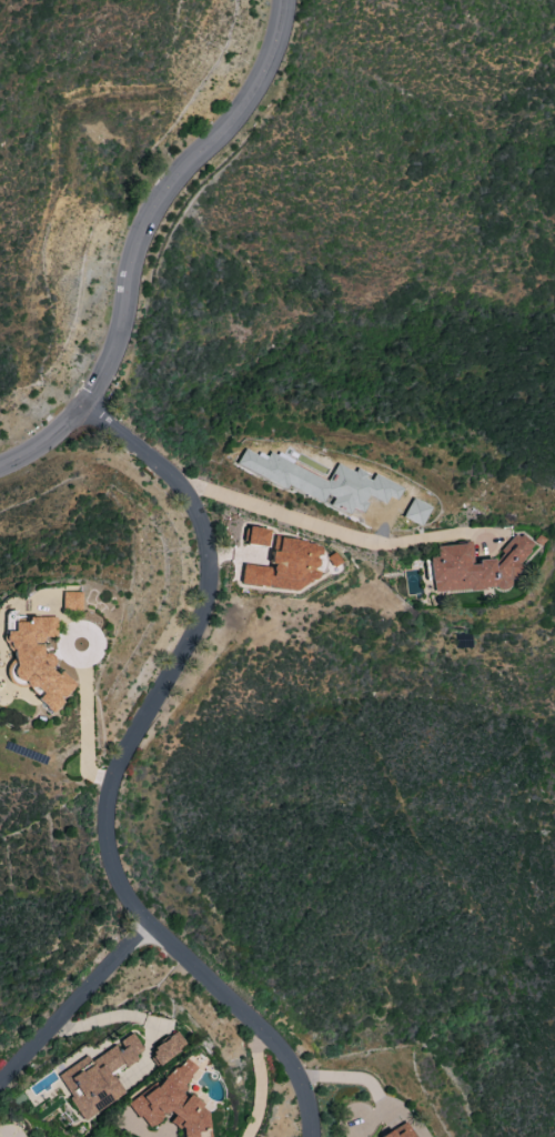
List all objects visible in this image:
road: (142, 238)
building: (322, 482)
building: (414, 511)
road: (327, 526)
building: (255, 535)
building: (286, 565)
building: (473, 567)
building: (70, 600)
road: (64, 646)
road: (181, 653)
building: (37, 660)
road: (85, 726)
road: (75, 1005)
road: (121, 1014)
road: (251, 1019)
building: (165, 1048)
building: (97, 1076)
road: (259, 1081)
building: (172, 1103)
building: (400, 1131)
road: (160, 1136)

